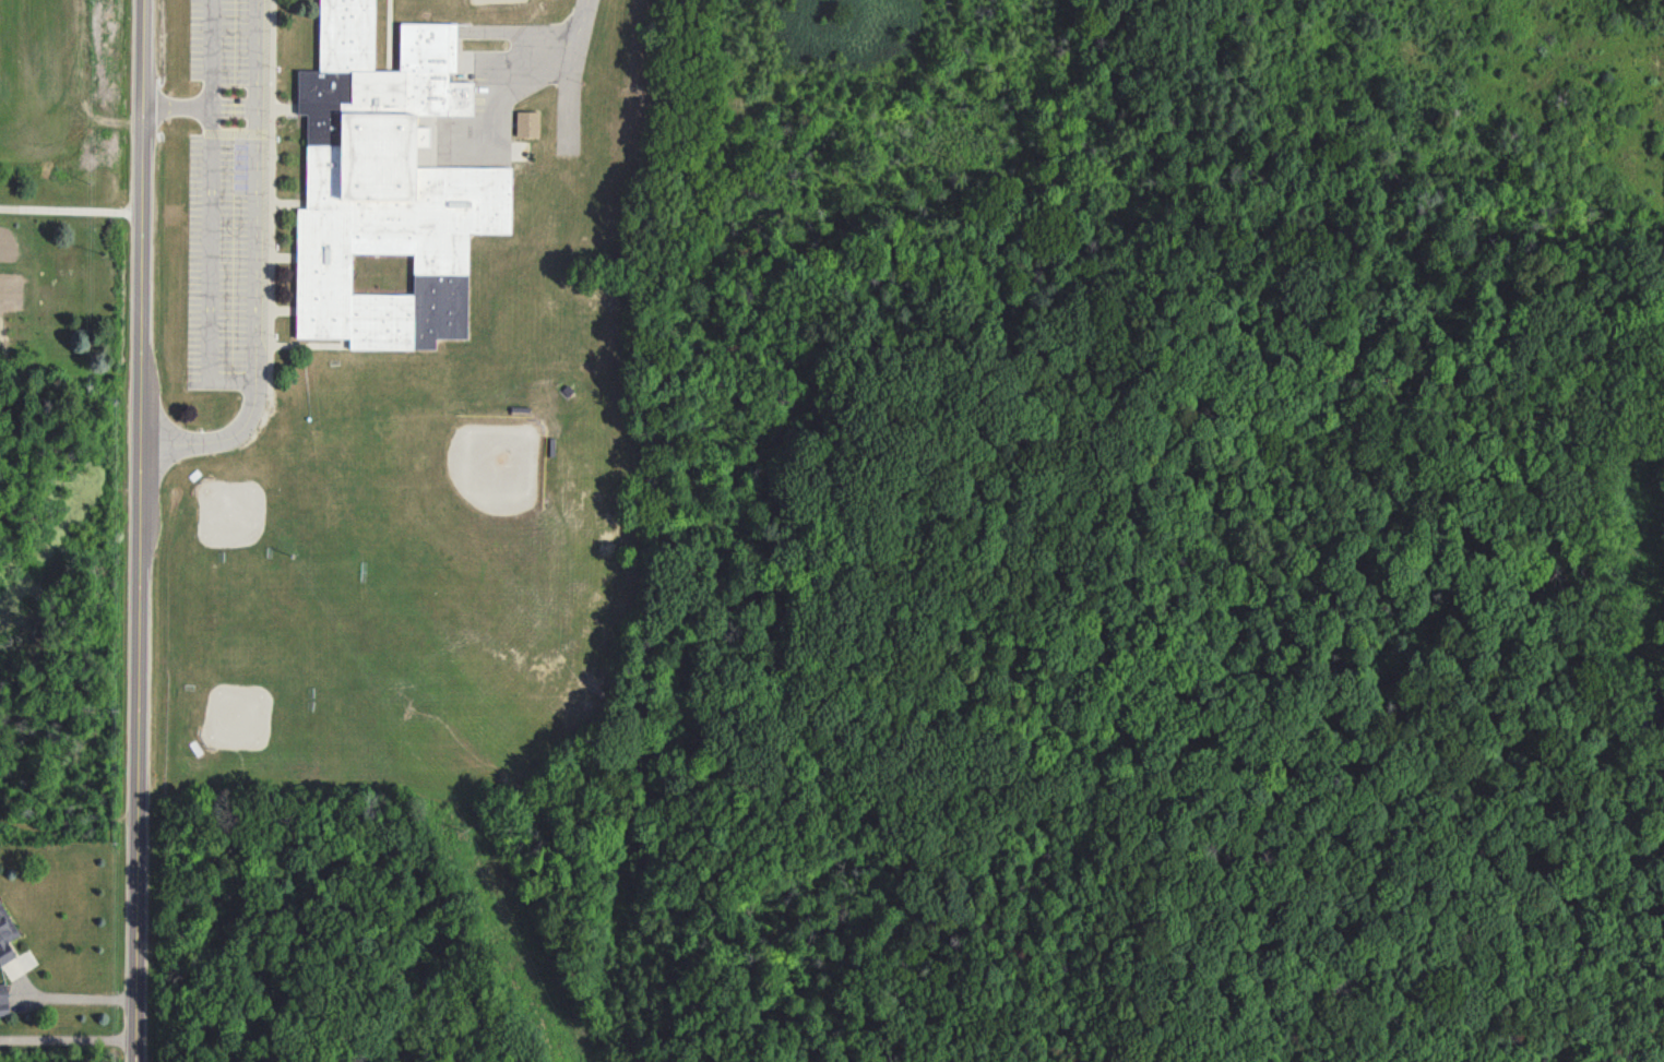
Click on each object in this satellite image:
road: (257, 53)
road: (210, 55)
road: (539, 64)
road: (572, 72)
road: (176, 109)
road: (233, 109)
building: (527, 123)
building: (387, 187)
parking lot: (225, 194)
road: (71, 206)
road: (254, 244)
road: (209, 267)
road: (216, 440)
road: (141, 530)
building: (5, 936)
road: (66, 995)
building: (3, 1001)
road: (68, 1039)

